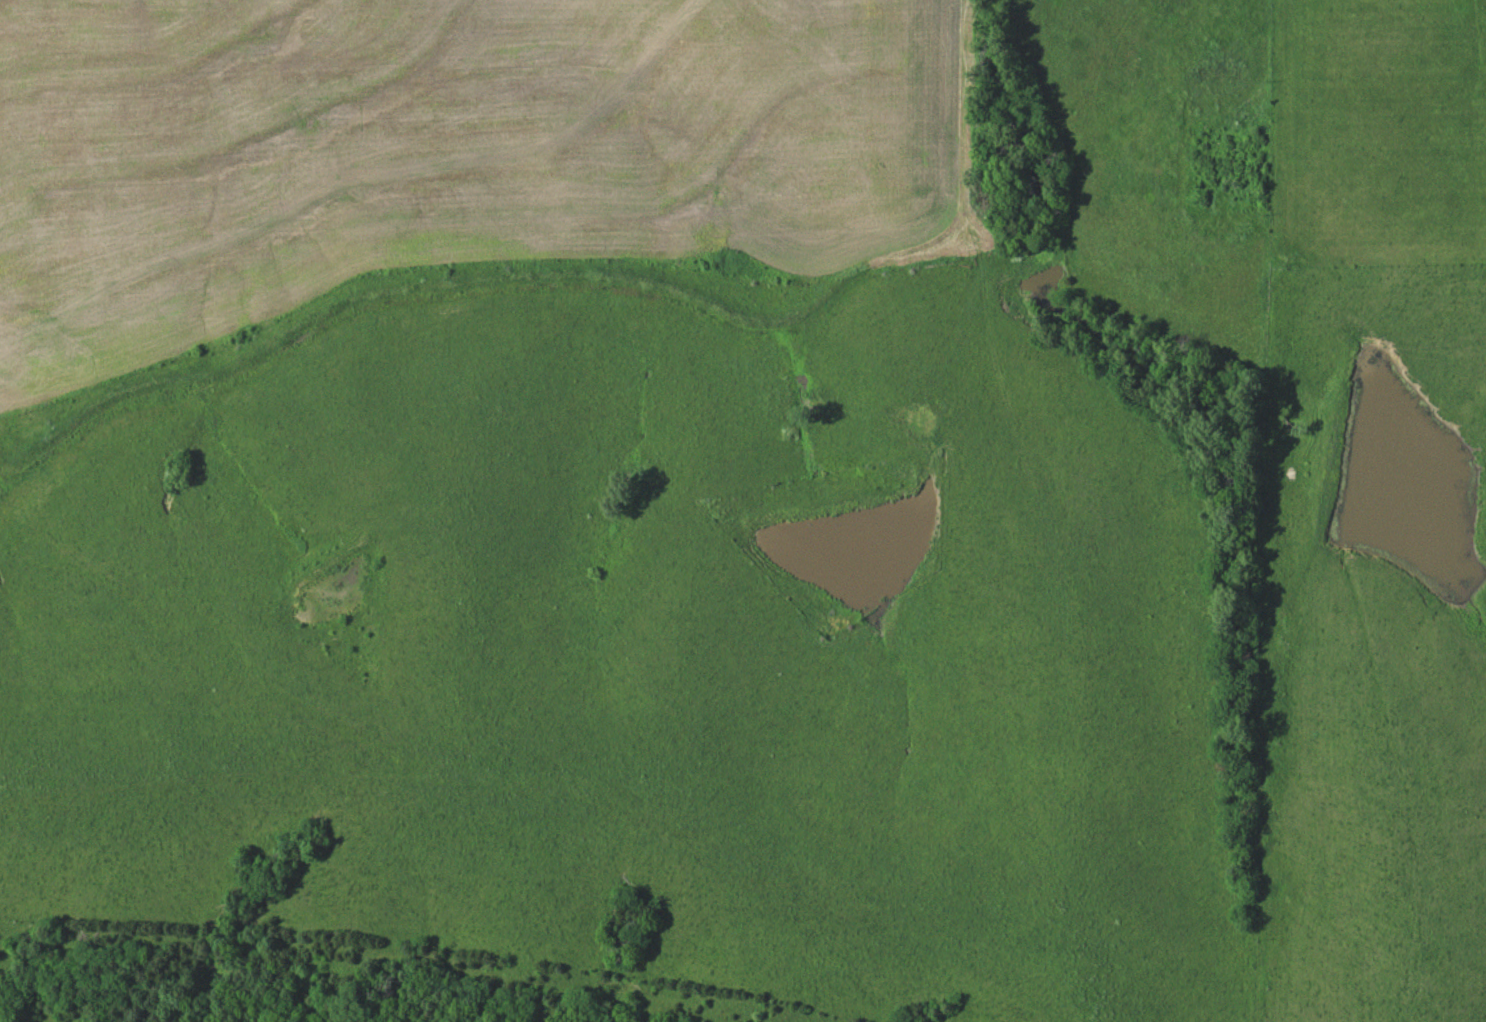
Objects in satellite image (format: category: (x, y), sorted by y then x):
park: (1229, 130)

